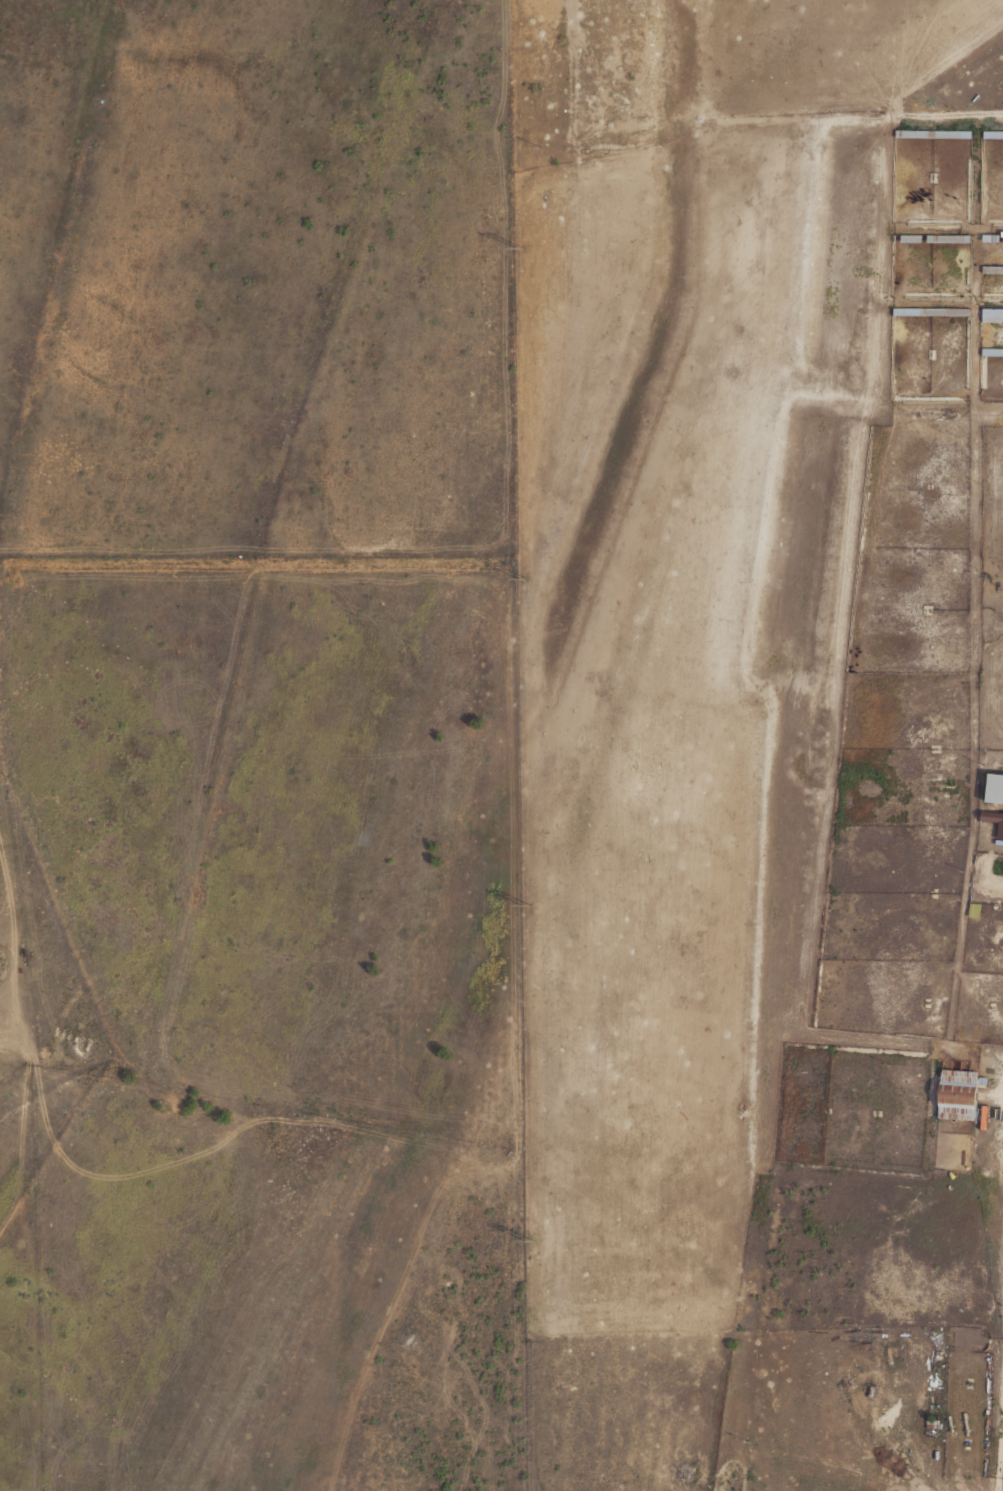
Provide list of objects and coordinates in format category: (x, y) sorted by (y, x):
road: (951, 118)
building: (933, 133)
building: (992, 134)
building: (1002, 233)
building: (990, 237)
building: (911, 238)
building: (948, 238)
power tower: (518, 247)
building: (992, 268)
building: (931, 311)
building: (992, 314)
building: (992, 351)
road: (256, 562)
power tower: (521, 579)
building: (995, 787)
building: (994, 820)
building: (999, 841)
road: (201, 853)
power tower: (526, 906)
building: (973, 909)
building: (982, 1081)
building: (958, 1093)
building: (983, 1116)
road: (21, 1128)
road: (217, 1140)
power tower: (529, 1241)
road: (1000, 1423)
road: (901, 1480)
road: (997, 1482)

